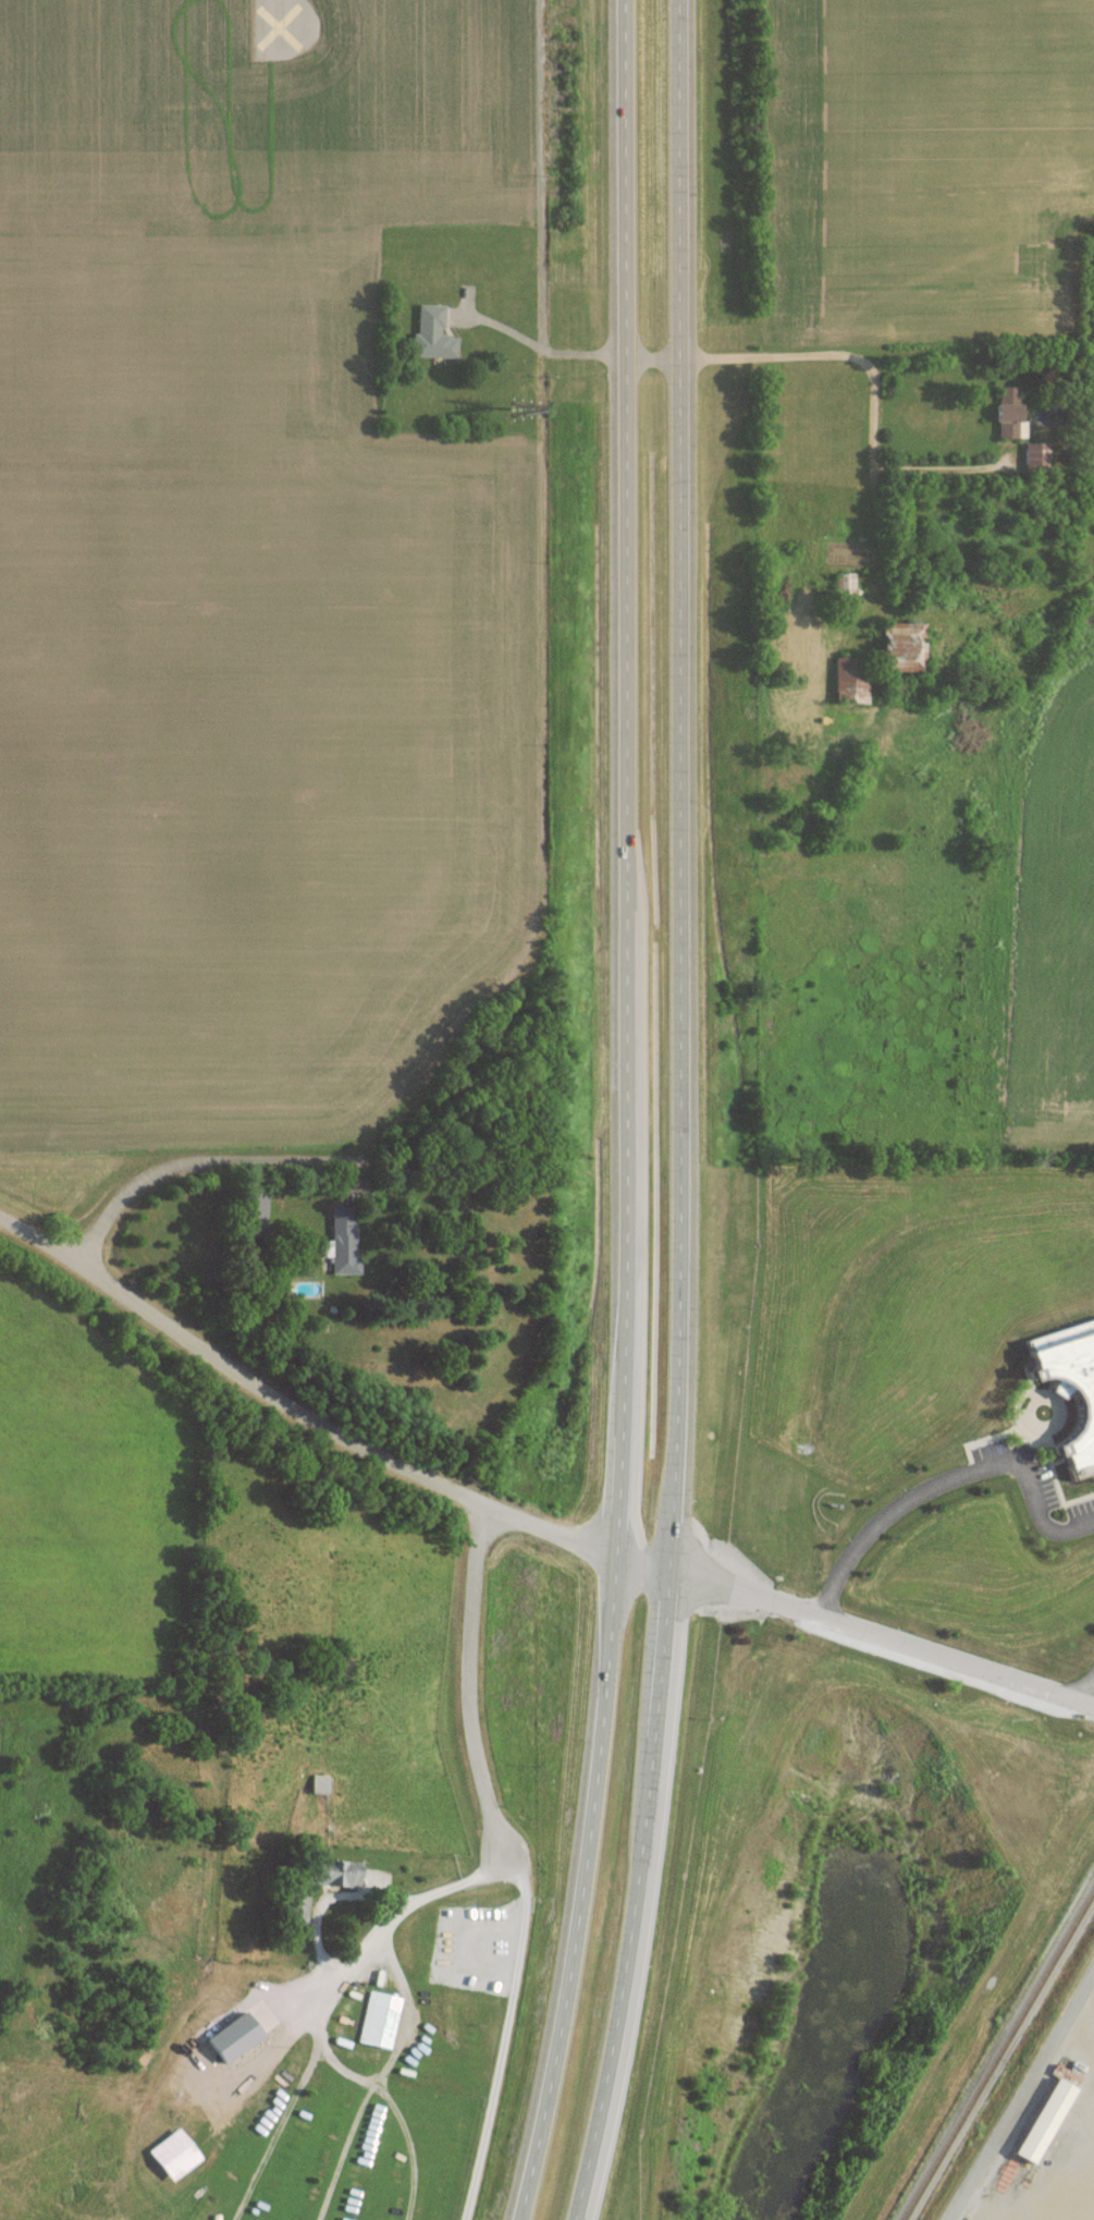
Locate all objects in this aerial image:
airport runway: (266, 21)
airport: (278, 109)
building: (430, 333)
road: (482, 346)
road: (862, 359)
building: (1006, 412)
building: (1034, 453)
road: (952, 468)
building: (899, 646)
building: (846, 680)
building: (780, 703)
road: (629, 1113)
road: (680, 1113)
road: (298, 1163)
building: (244, 1219)
road: (40, 1243)
building: (334, 1248)
building: (1069, 1387)
road: (360, 1441)
road: (947, 1479)
road: (878, 1640)
road: (472, 1680)
road: (1090, 1699)
building: (332, 1871)
road: (443, 1883)
building: (297, 1910)
building: (377, 2018)
road: (505, 2036)
building: (230, 2037)
railway: (998, 2056)
road: (1019, 2094)
building: (1041, 2120)
building: (171, 2154)

